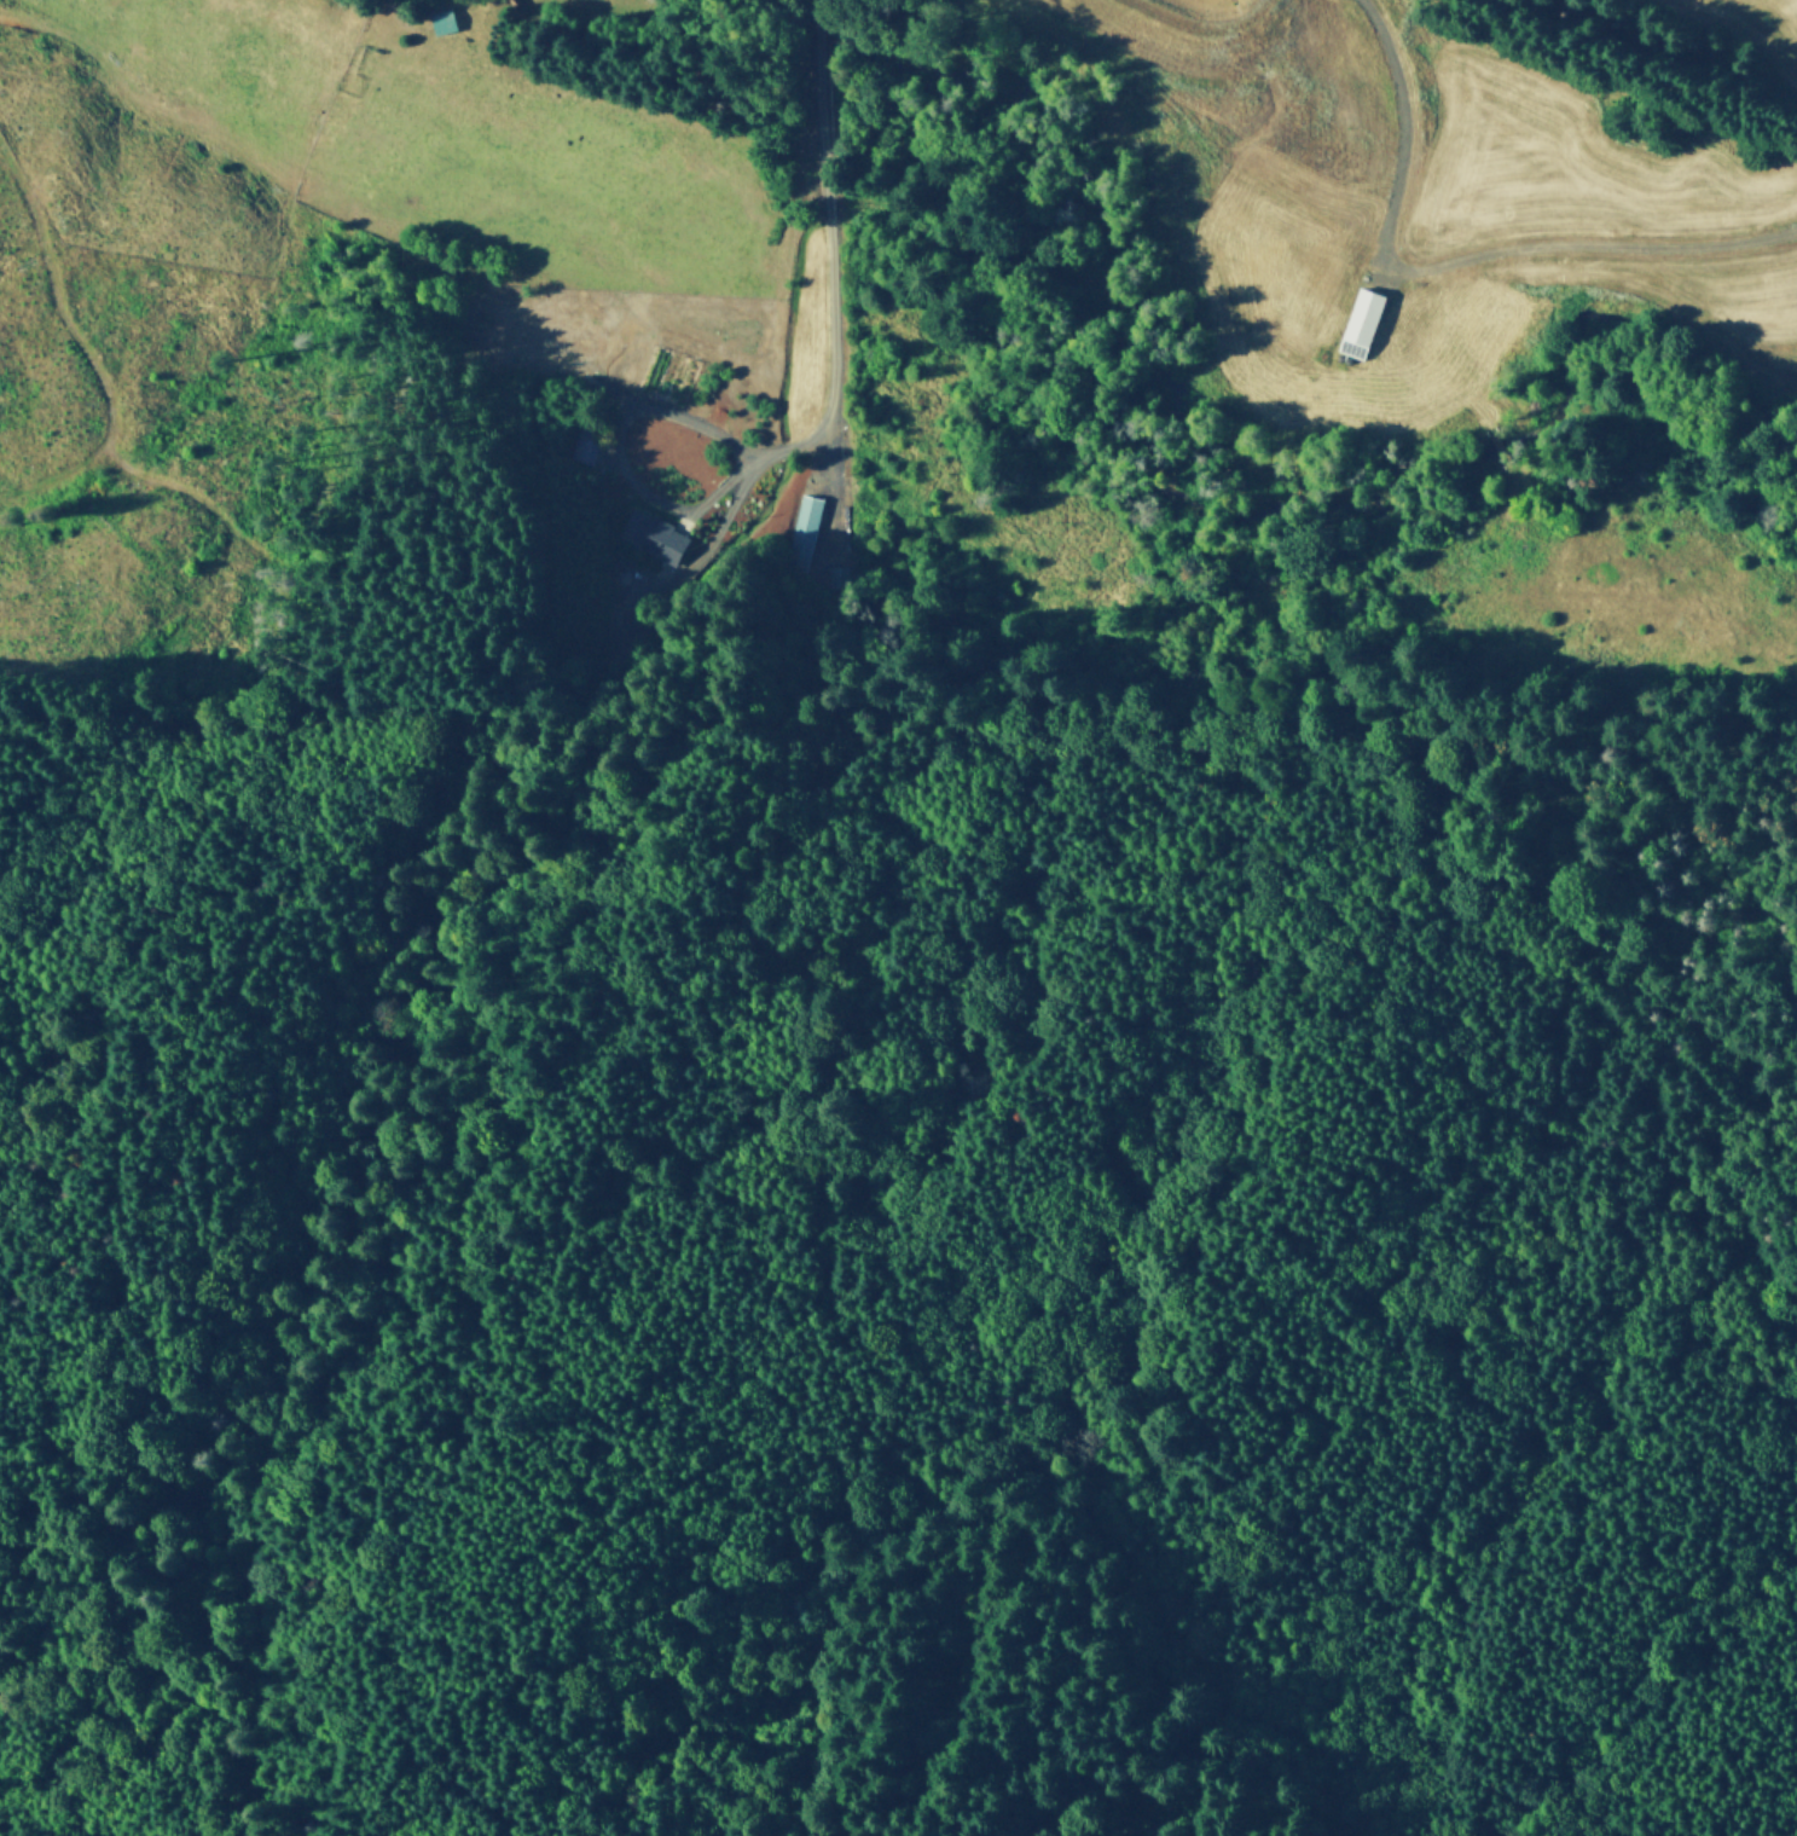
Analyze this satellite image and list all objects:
road: (821, 2)
crop: (1761, 27)
road: (822, 29)
crop: (1474, 146)
crop: (469, 147)
road: (830, 225)
road: (1587, 245)
building: (1363, 326)
road: (836, 439)
building: (586, 446)
road: (621, 456)
building: (604, 471)
building: (806, 534)
building: (656, 539)
building: (620, 566)
road: (691, 567)
building: (840, 579)

